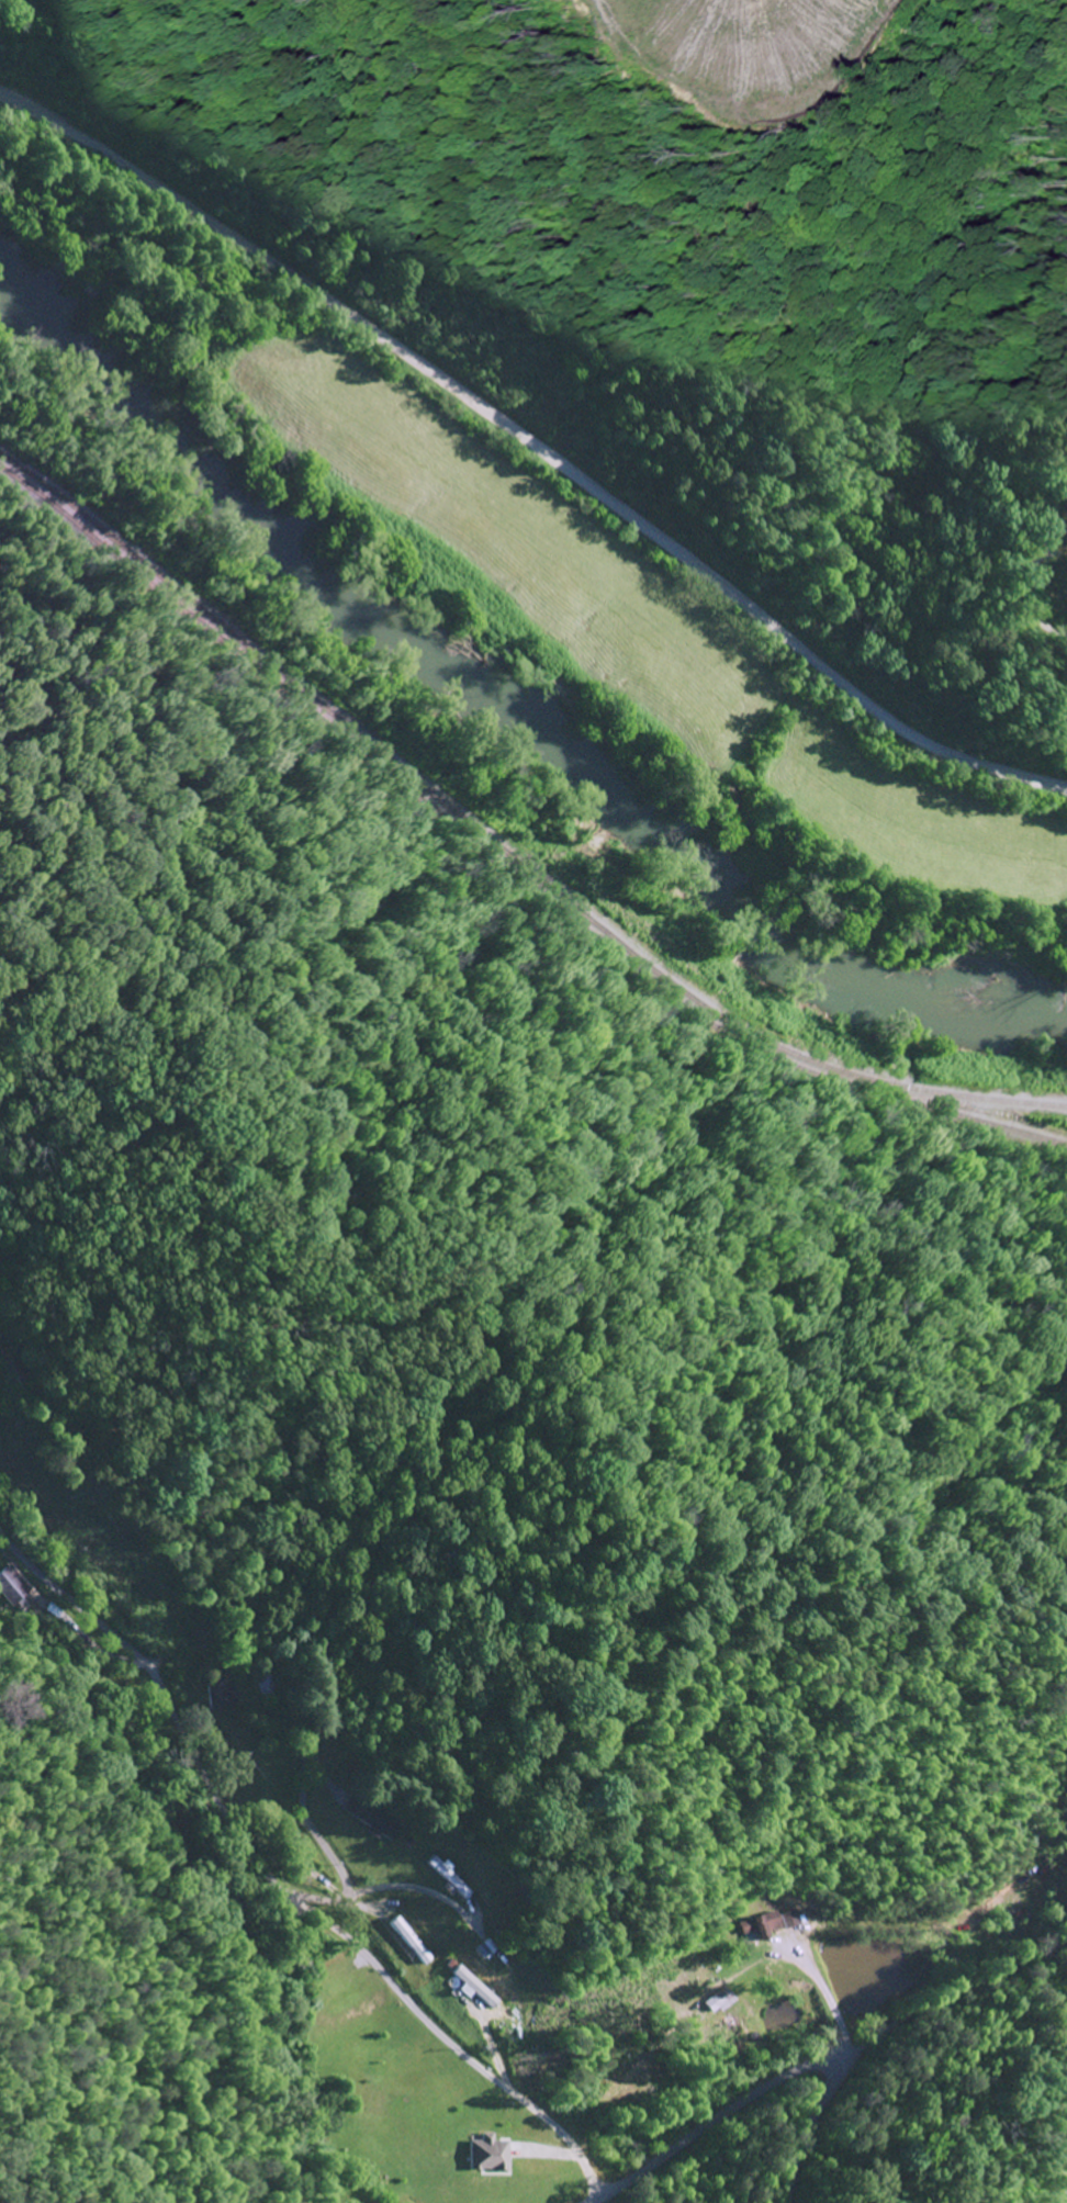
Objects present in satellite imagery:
road: (532, 445)
road: (1031, 598)
railway: (301, 700)
river: (495, 709)
railway: (425, 786)
road: (517, 978)
railway: (819, 1069)
railway: (968, 1098)
building: (11, 1586)
building: (272, 1687)
building: (220, 1693)
building: (370, 1821)
road: (278, 1884)
building: (770, 1925)
building: (409, 1942)
building: (473, 1989)
road: (768, 2087)
building: (487, 2155)

